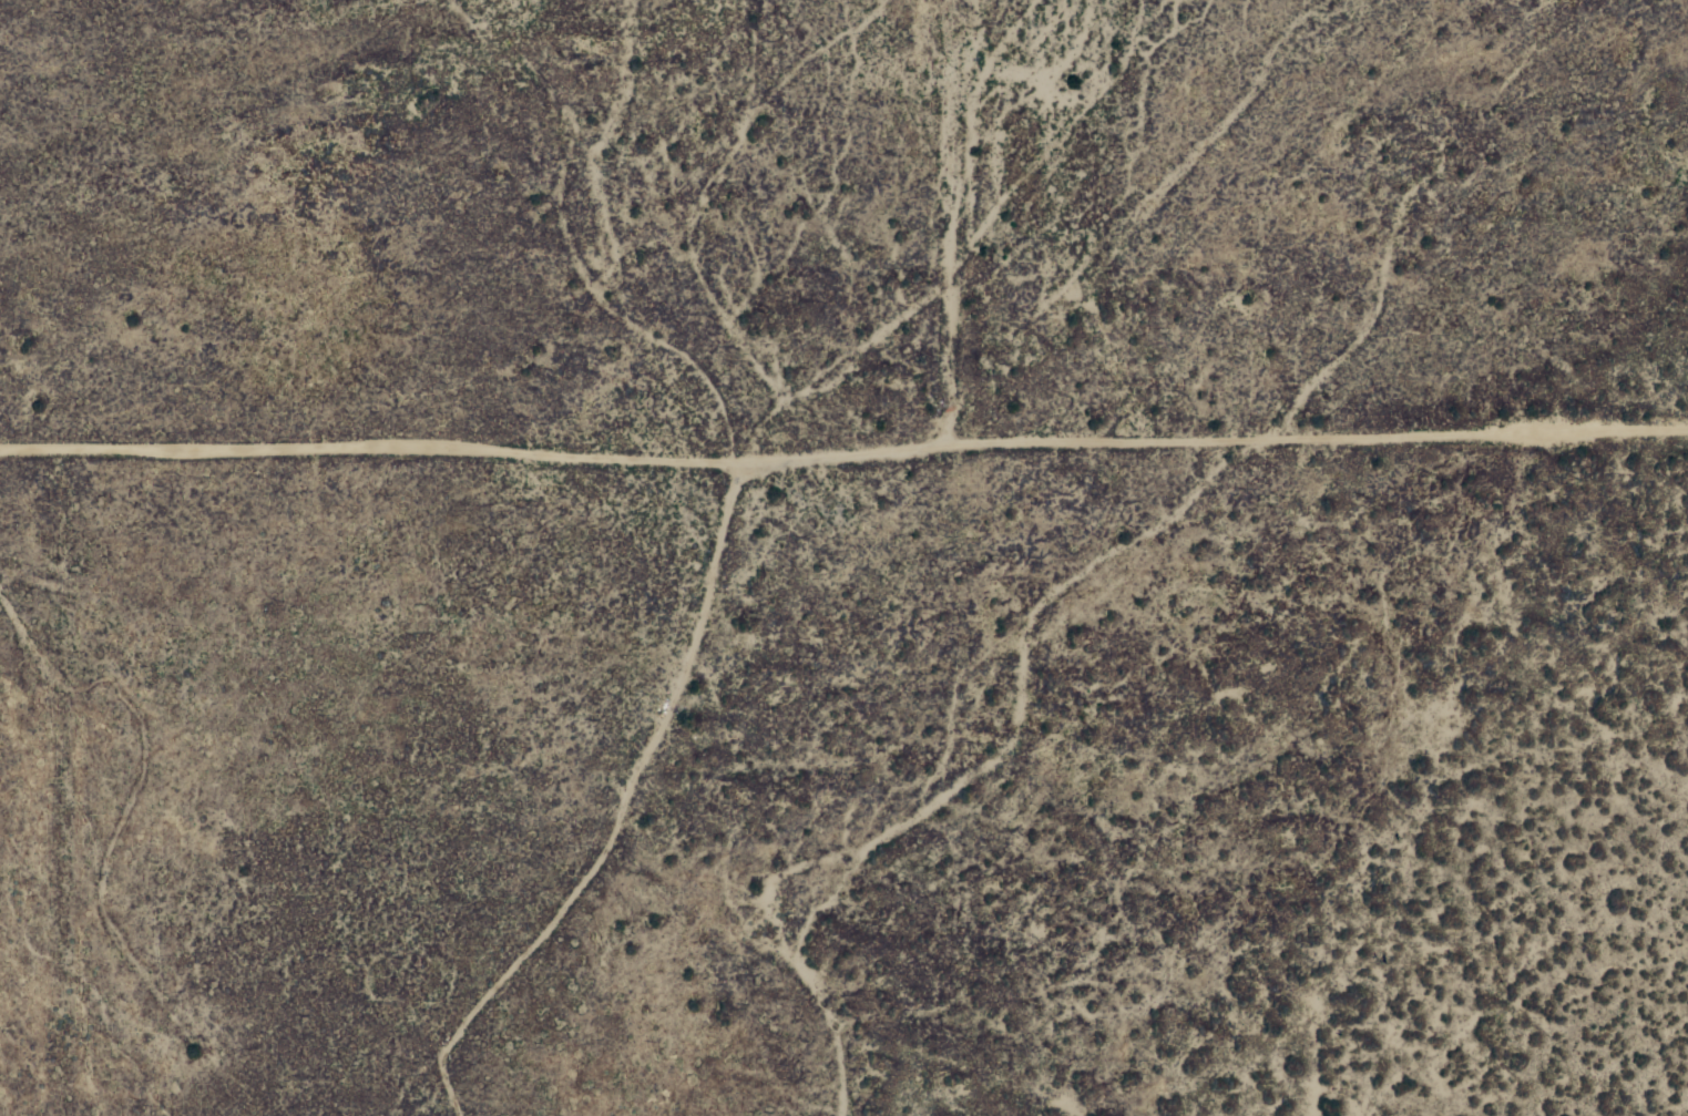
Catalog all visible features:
road: (843, 451)

